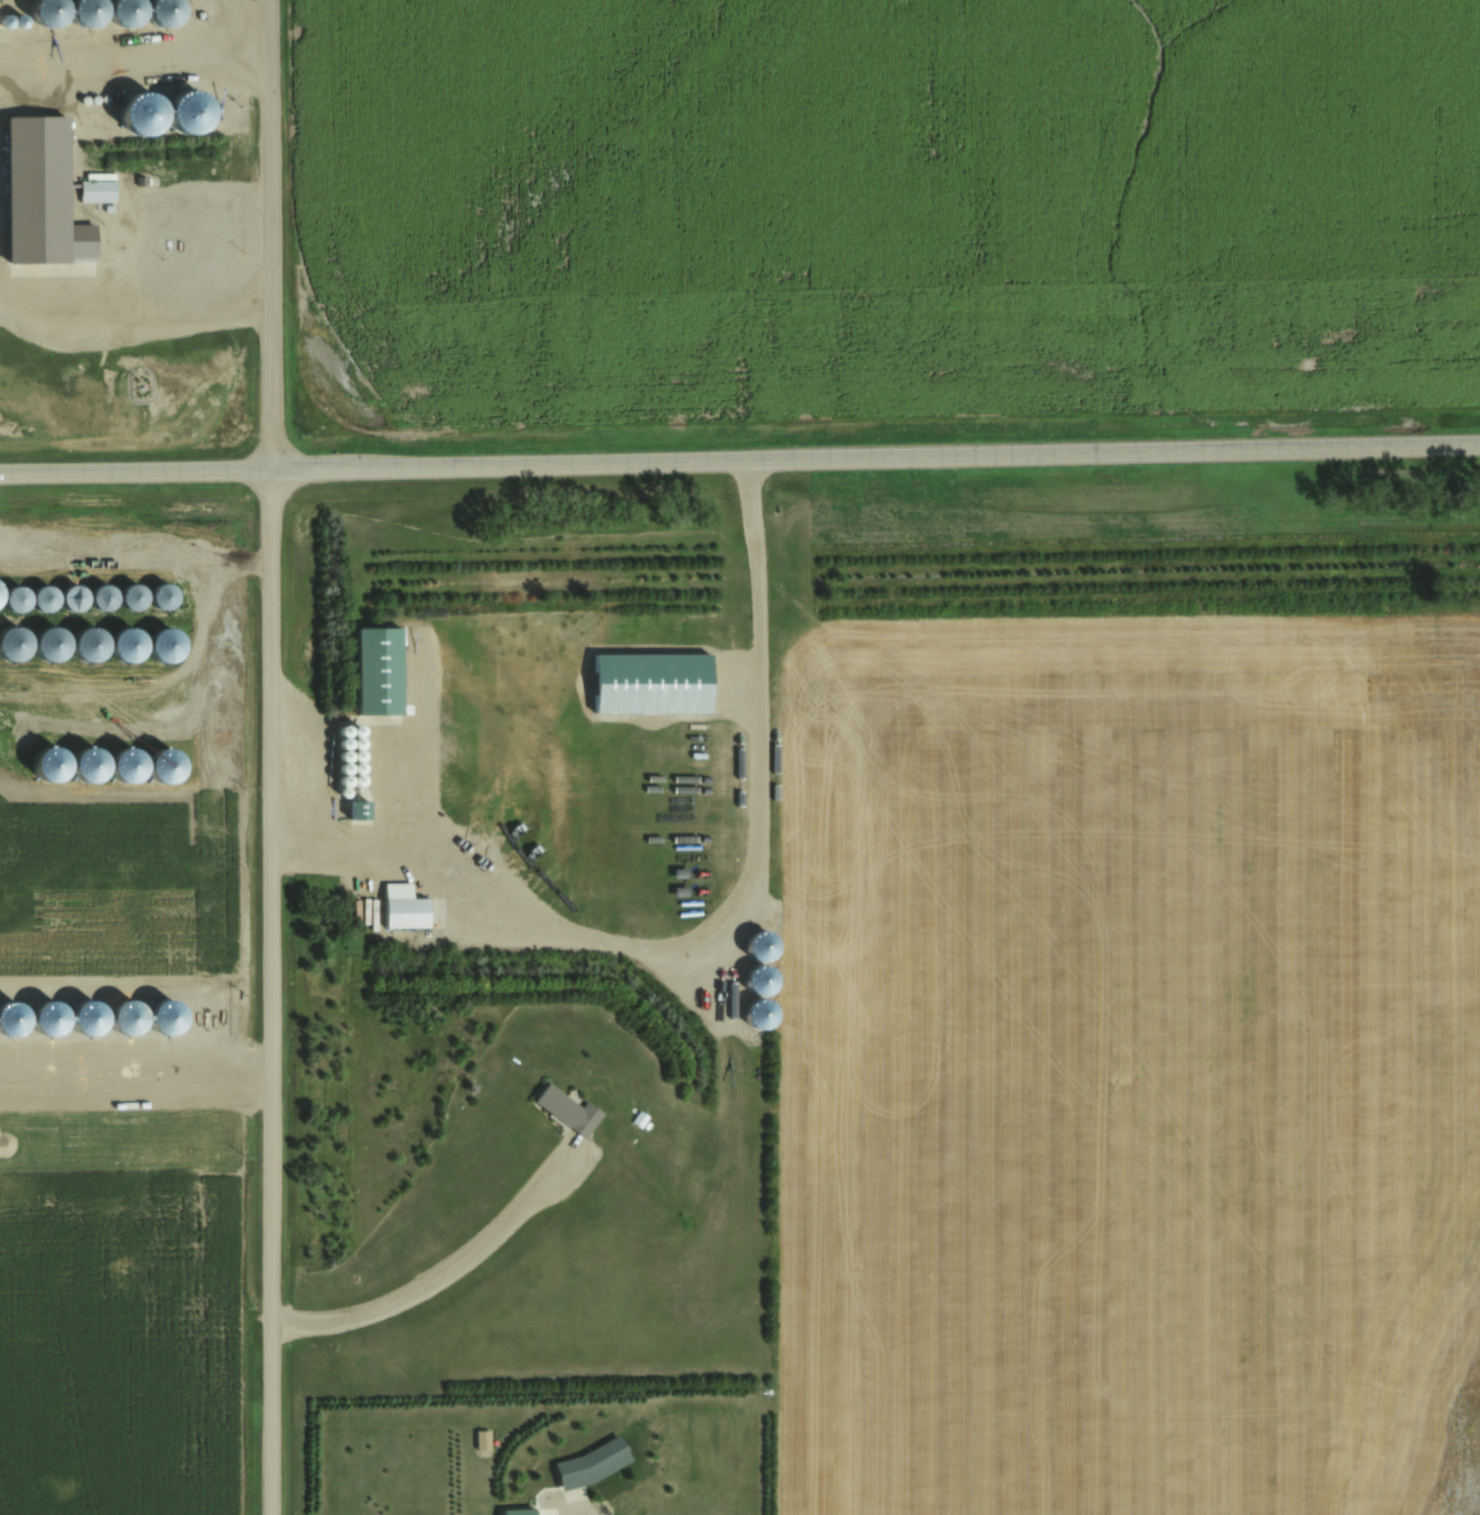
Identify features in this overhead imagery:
building: (95, 192)
building: (178, 242)
road: (740, 457)
building: (132, 596)
building: (42, 597)
building: (74, 597)
building: (102, 597)
building: (15, 598)
building: (13, 641)
building: (49, 642)
building: (89, 643)
building: (127, 644)
road: (271, 757)
building: (407, 912)
building: (567, 1110)
building: (636, 1118)
building: (479, 1439)
building: (590, 1464)

